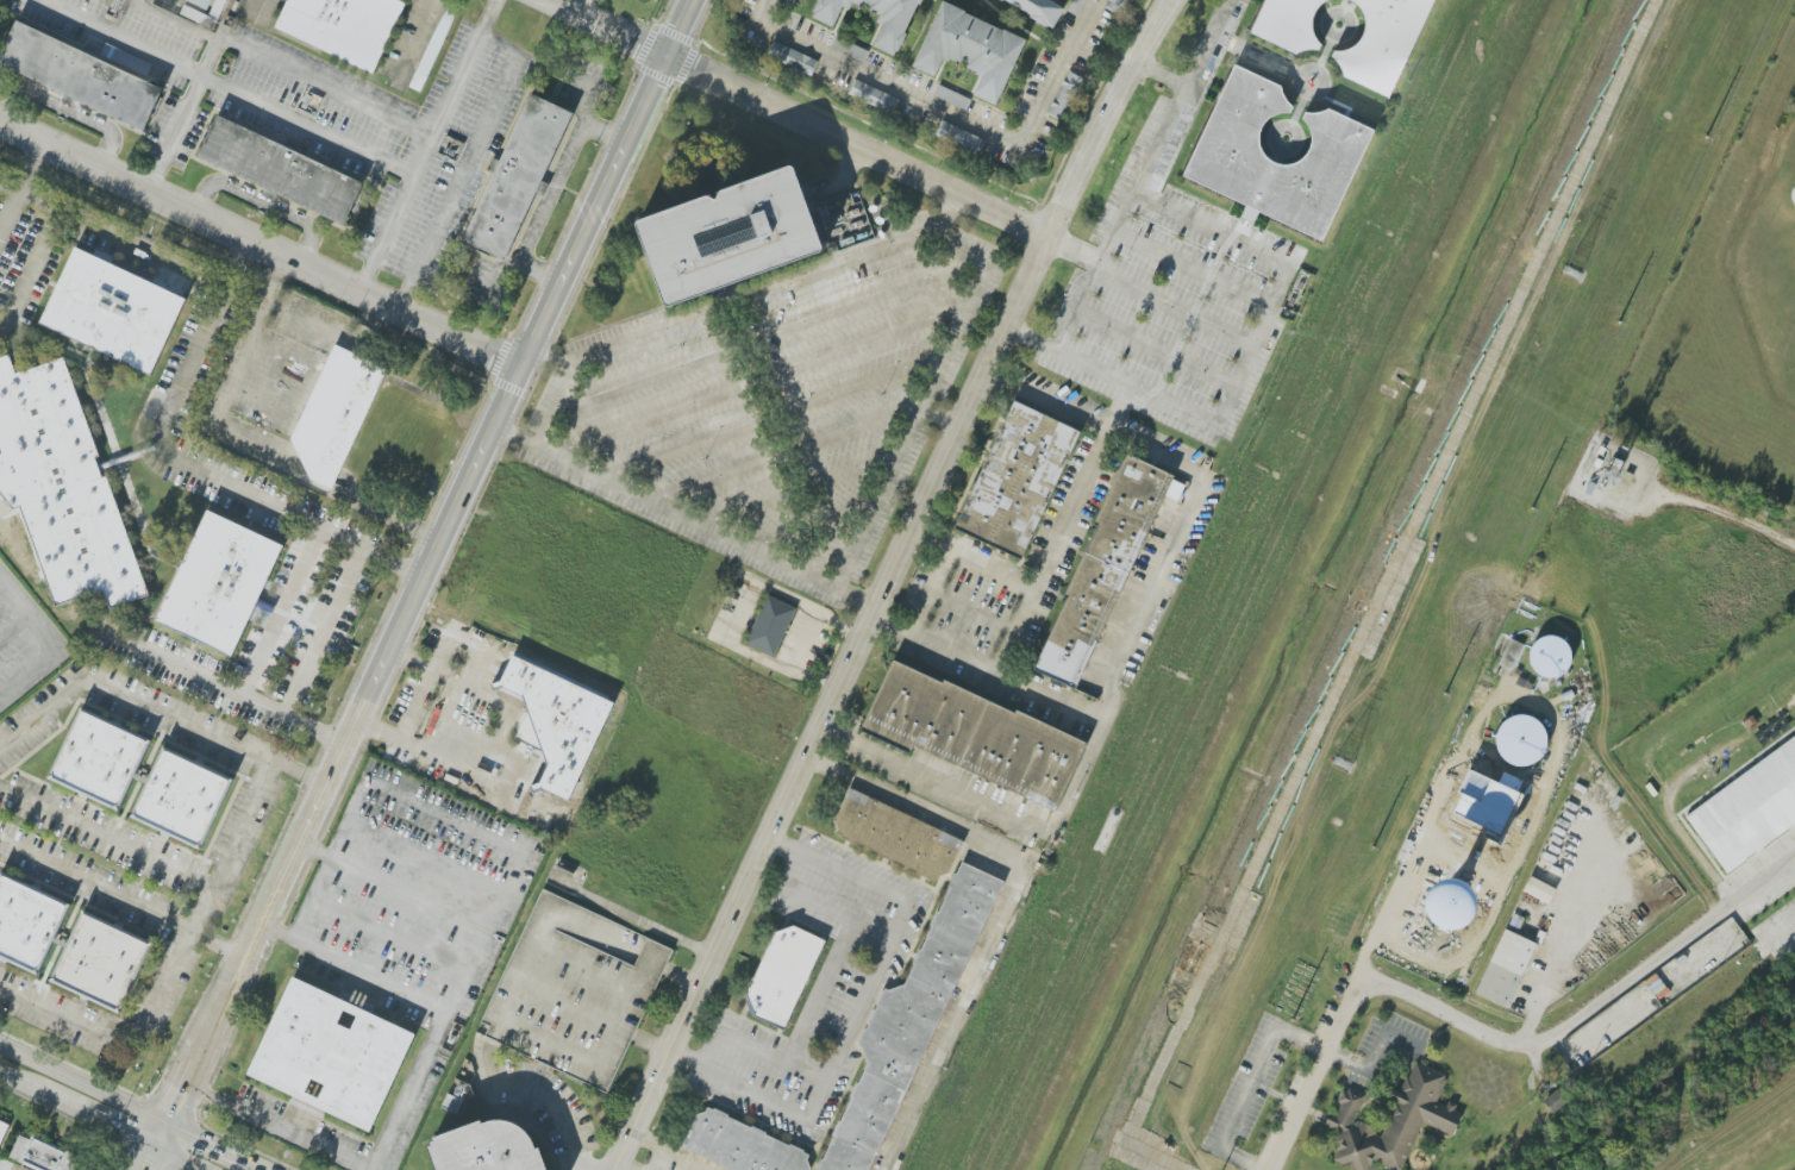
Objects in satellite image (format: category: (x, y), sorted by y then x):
road: (430, 1)
building: (201, 2)
road: (578, 6)
building: (1118, 6)
road: (249, 8)
building: (1033, 10)
parking lot: (251, 11)
road: (175, 21)
road: (1326, 21)
building: (1284, 24)
building: (337, 26)
building: (893, 26)
road: (609, 27)
parking lot: (119, 33)
road: (414, 40)
parking lot: (414, 42)
building: (1380, 42)
building: (429, 49)
building: (850, 49)
road: (249, 51)
building: (967, 51)
road: (1325, 54)
road: (1258, 56)
building: (792, 58)
building: (74, 74)
road: (1158, 75)
road: (1299, 79)
road: (225, 89)
building: (1065, 95)
building: (873, 96)
road: (1297, 111)
road: (69, 114)
road: (950, 115)
road: (1103, 118)
parking lot: (383, 133)
road: (607, 133)
road: (1272, 136)
building: (959, 137)
road: (427, 145)
road: (857, 148)
building: (1225, 152)
road: (467, 163)
road: (31, 167)
building: (273, 169)
road: (1143, 175)
building: (508, 176)
road: (840, 177)
road: (608, 182)
road: (10, 186)
building: (1793, 192)
storage tank: (1793, 192)
road: (553, 193)
road: (261, 205)
road: (10, 212)
road: (942, 217)
building: (719, 234)
road: (123, 237)
road: (259, 244)
road: (908, 245)
power tower: (1575, 255)
road: (30, 267)
road: (1194, 268)
road: (540, 274)
road: (1147, 292)
parking lot: (1171, 293)
building: (110, 308)
road: (765, 334)
road: (1155, 349)
road: (550, 357)
road: (1238, 375)
road: (762, 377)
parking lot: (771, 398)
building: (331, 412)
road: (774, 415)
road: (806, 448)
building: (1012, 480)
road: (239, 489)
road: (800, 490)
building: (61, 492)
road: (4, 515)
road: (681, 515)
road: (811, 523)
road: (1051, 550)
road: (950, 557)
road: (392, 563)
road: (826, 564)
building: (1097, 568)
building: (214, 580)
road: (282, 611)
road: (972, 611)
building: (767, 625)
road: (837, 627)
road: (14, 628)
road: (54, 644)
building: (1512, 655)
road: (484, 656)
building: (1550, 657)
road: (1118, 659)
road: (986, 665)
road: (784, 670)
road: (813, 677)
road: (229, 688)
road: (424, 690)
road: (493, 701)
road: (826, 703)
road: (155, 711)
road: (1547, 714)
building: (556, 722)
building: (530, 728)
building: (968, 733)
road: (467, 738)
building: (1520, 740)
building: (96, 757)
road: (448, 765)
power tower: (1341, 765)
road: (334, 767)
building: (1487, 770)
building: (177, 797)
road: (914, 808)
building: (1747, 808)
building: (1503, 812)
building: (893, 836)
road: (104, 840)
road: (520, 853)
road: (424, 857)
road: (390, 889)
building: (1539, 890)
road: (123, 900)
building: (1450, 906)
road: (823, 909)
building: (23, 918)
road: (631, 919)
road: (1782, 933)
road: (386, 938)
building: (98, 959)
road: (1561, 959)
road: (174, 964)
road: (354, 969)
building: (1506, 969)
building: (780, 974)
building: (570, 991)
parking lot: (570, 991)
road: (819, 994)
road: (1591, 1007)
road: (858, 1008)
road: (951, 1015)
building: (907, 1022)
road: (753, 1047)
building: (327, 1052)
road: (1375, 1052)
road: (1316, 1072)
road: (1243, 1081)
road: (23, 1083)
road: (86, 1083)
building: (1555, 1101)
road: (556, 1109)
road: (102, 1121)
building: (1393, 1121)
traffic signals: (171, 1122)
road: (271, 1128)
building: (2, 1131)
building: (738, 1144)
road: (219, 1146)
building: (477, 1147)
traffic signals: (160, 1150)
road: (665, 1152)
building: (43, 1155)
road: (181, 1159)
building: (5, 1164)
road: (621, 1166)

